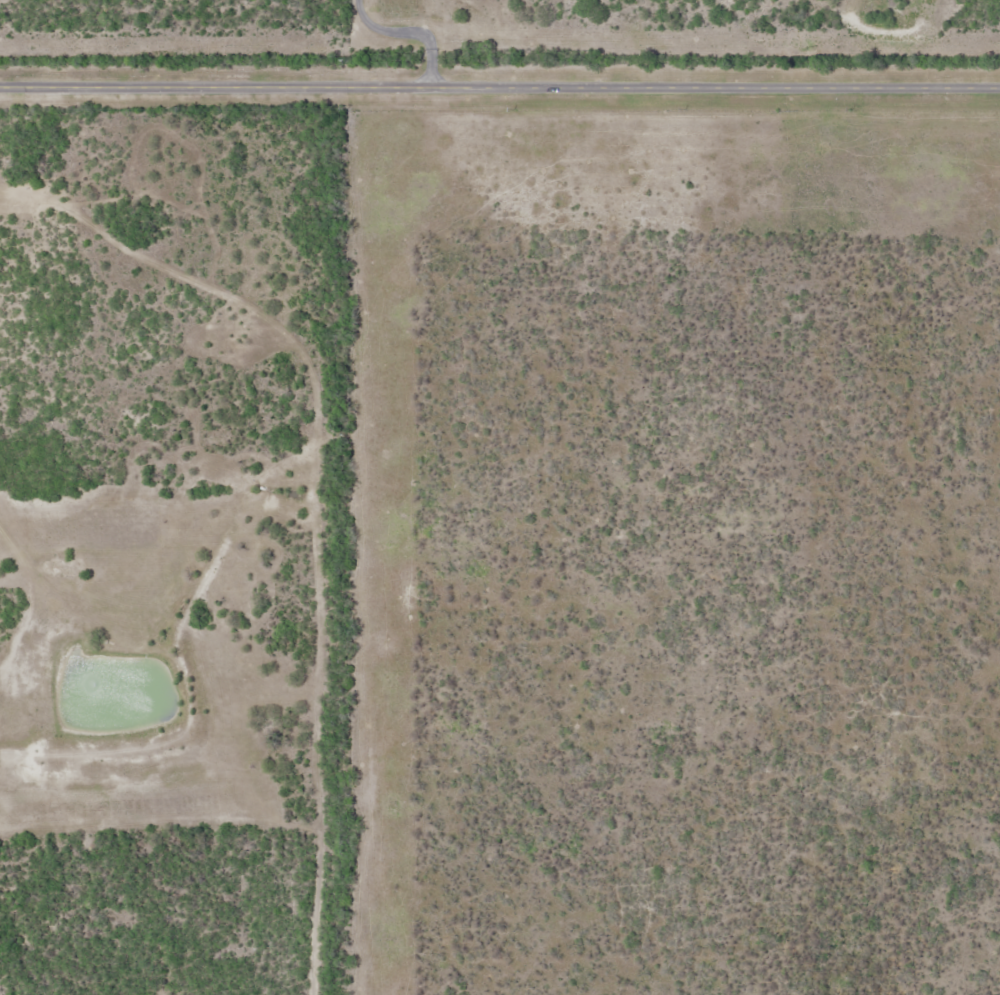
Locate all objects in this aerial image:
road: (500, 87)

